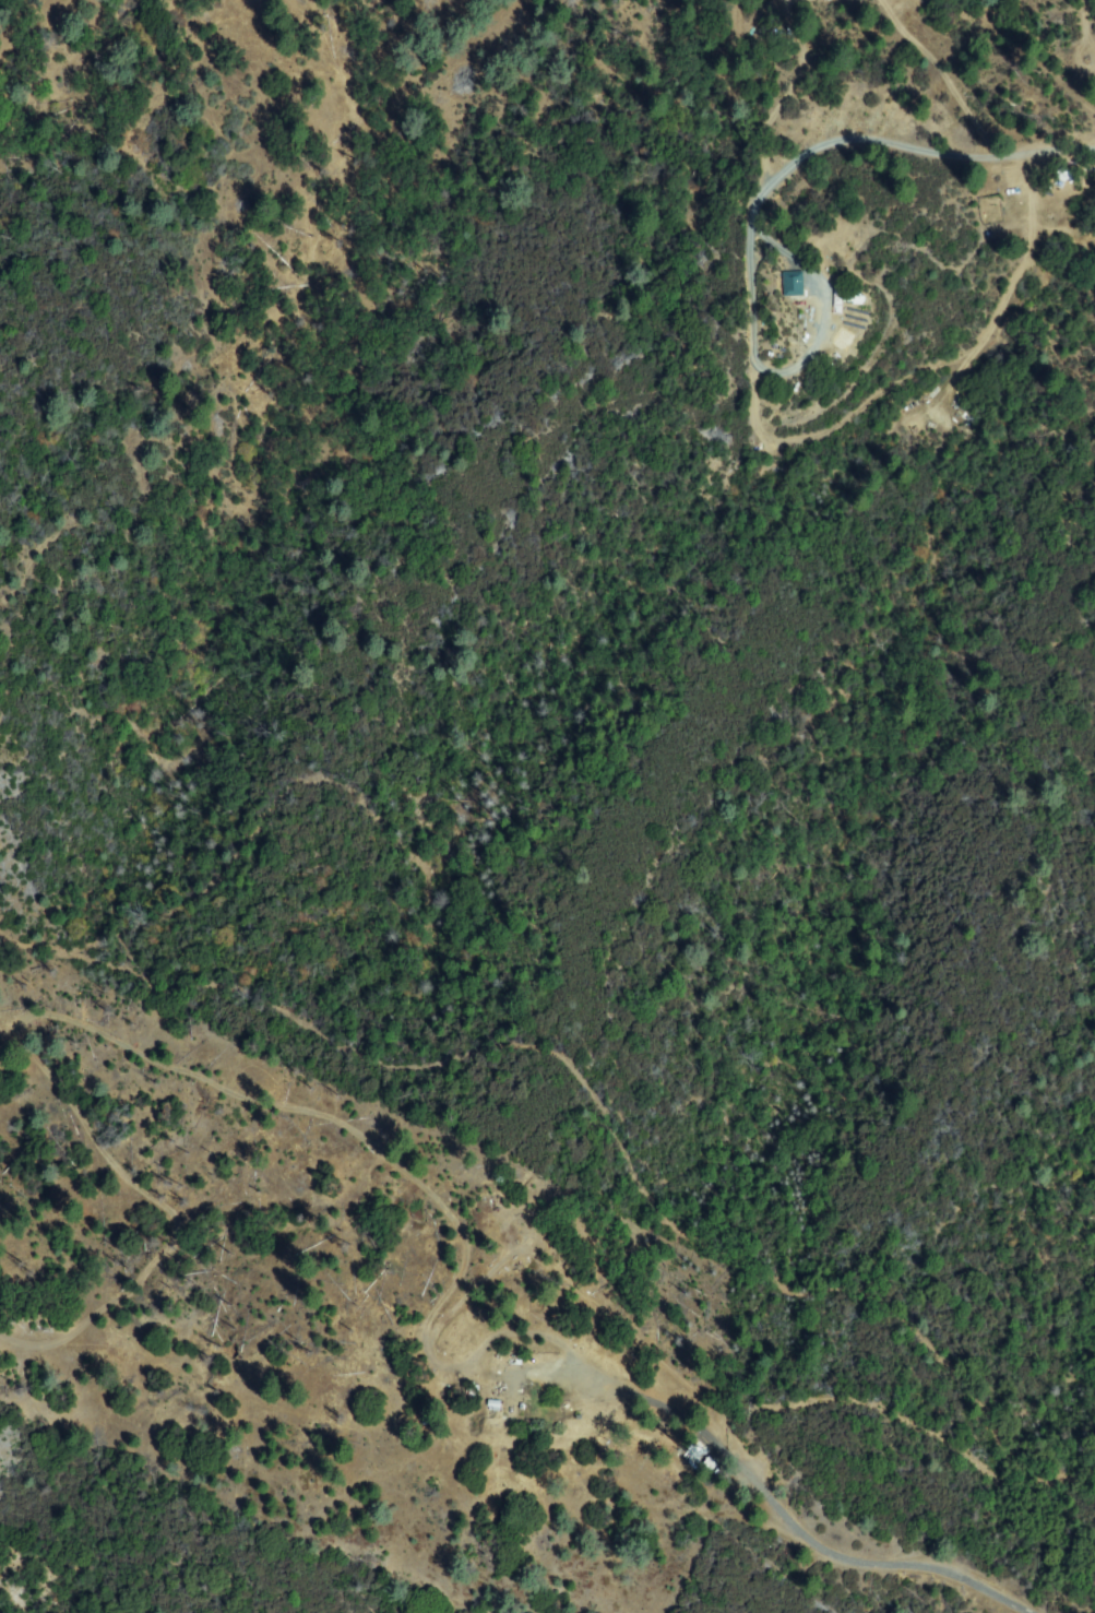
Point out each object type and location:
building: (782, 284)
building: (794, 285)
road: (545, 1281)
building: (528, 1400)
building: (711, 1464)

